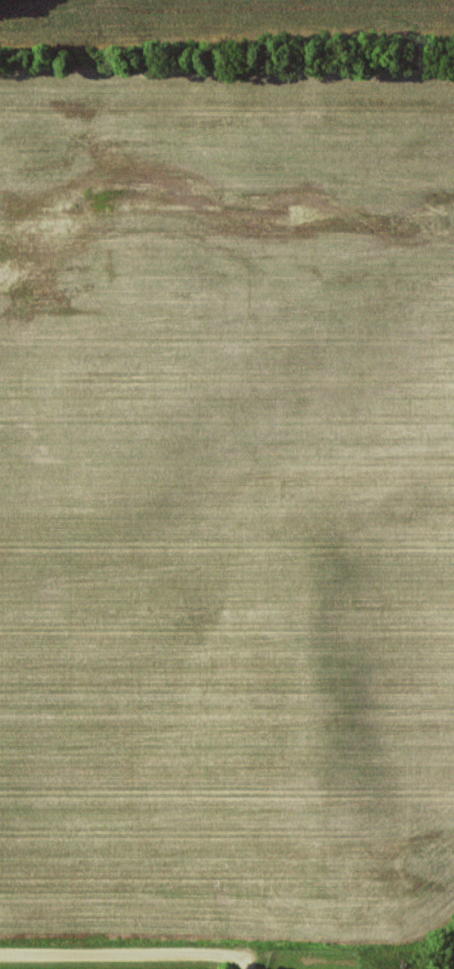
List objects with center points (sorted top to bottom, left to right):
road: (118, 954)

